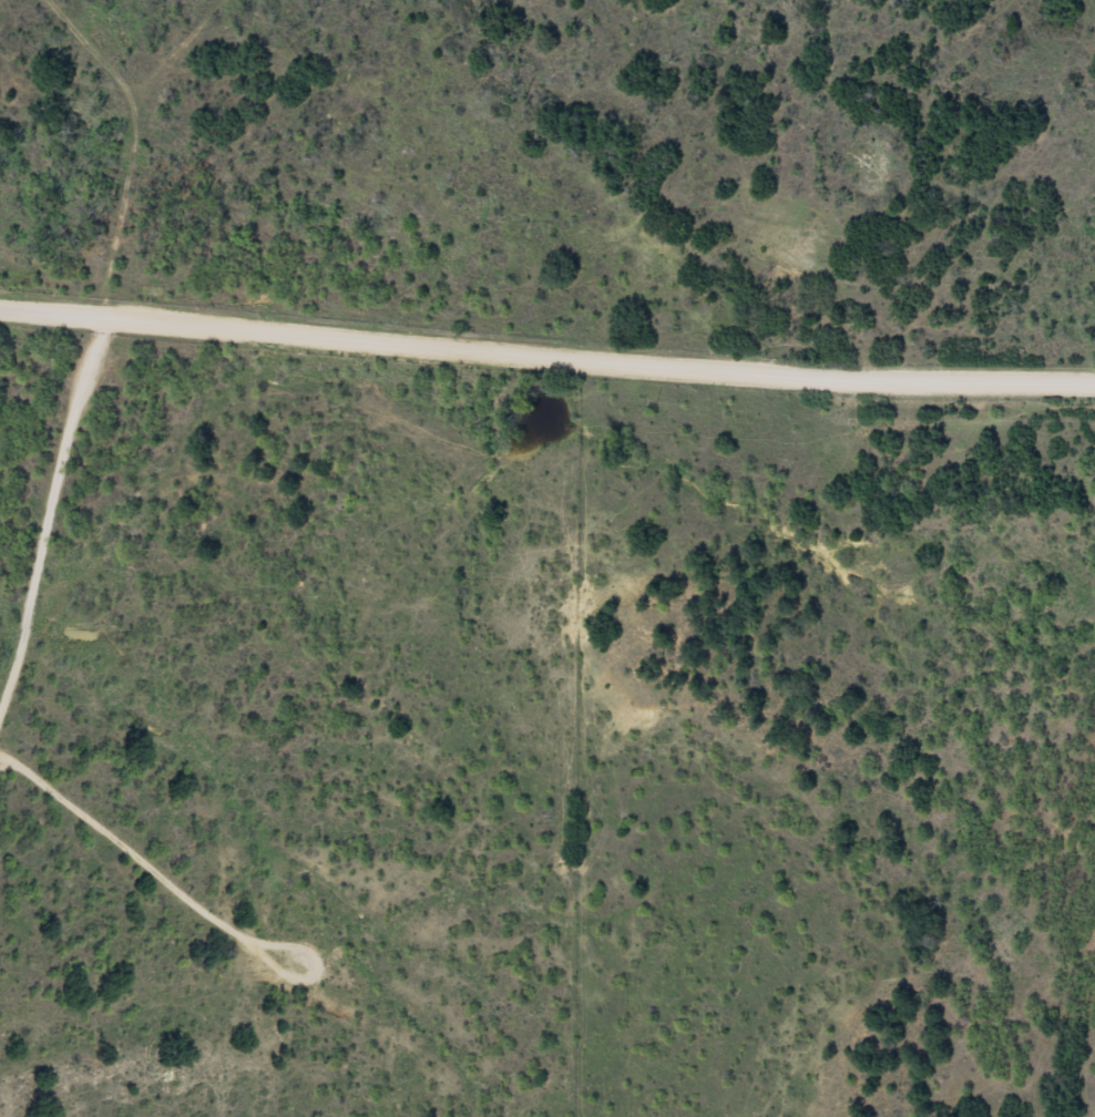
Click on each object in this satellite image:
road: (546, 367)
road: (80, 583)

